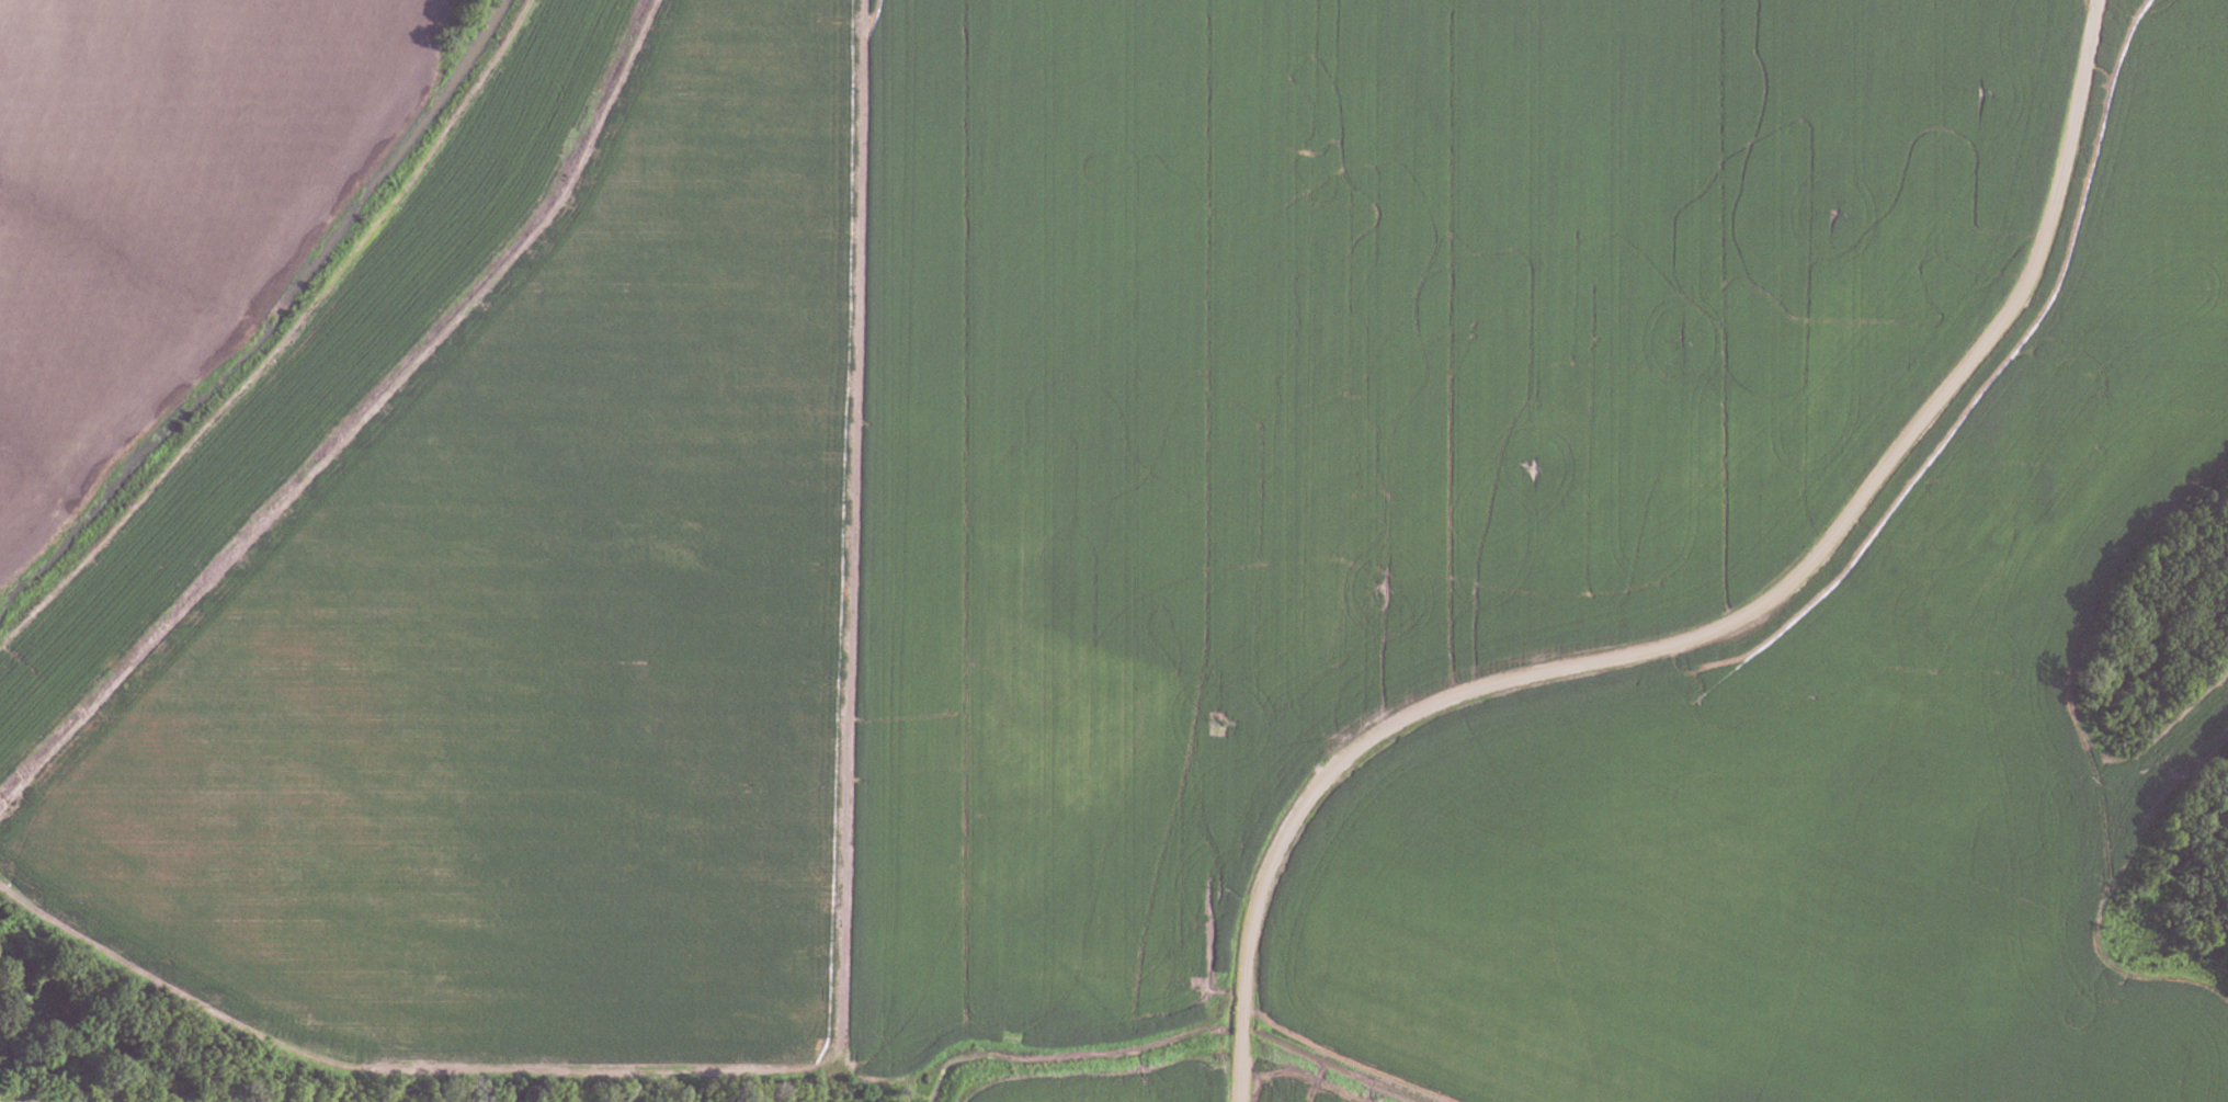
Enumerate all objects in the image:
road: (1714, 625)

